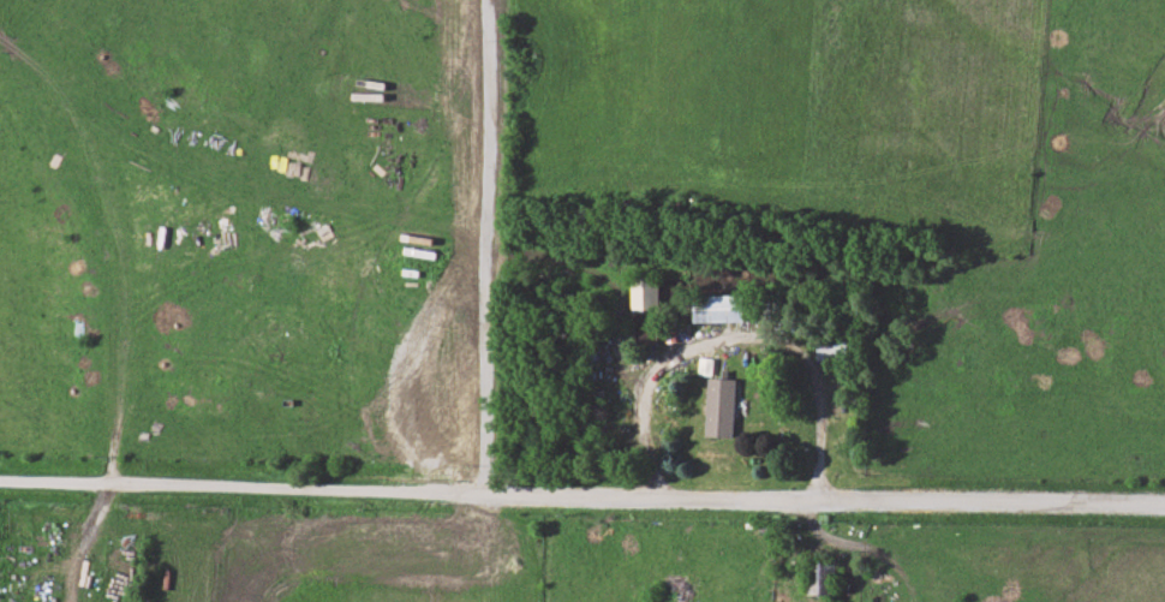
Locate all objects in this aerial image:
building: (464, 81)
road: (109, 251)
building: (644, 308)
building: (721, 308)
building: (834, 347)
building: (722, 406)
road: (581, 493)
building: (823, 579)

